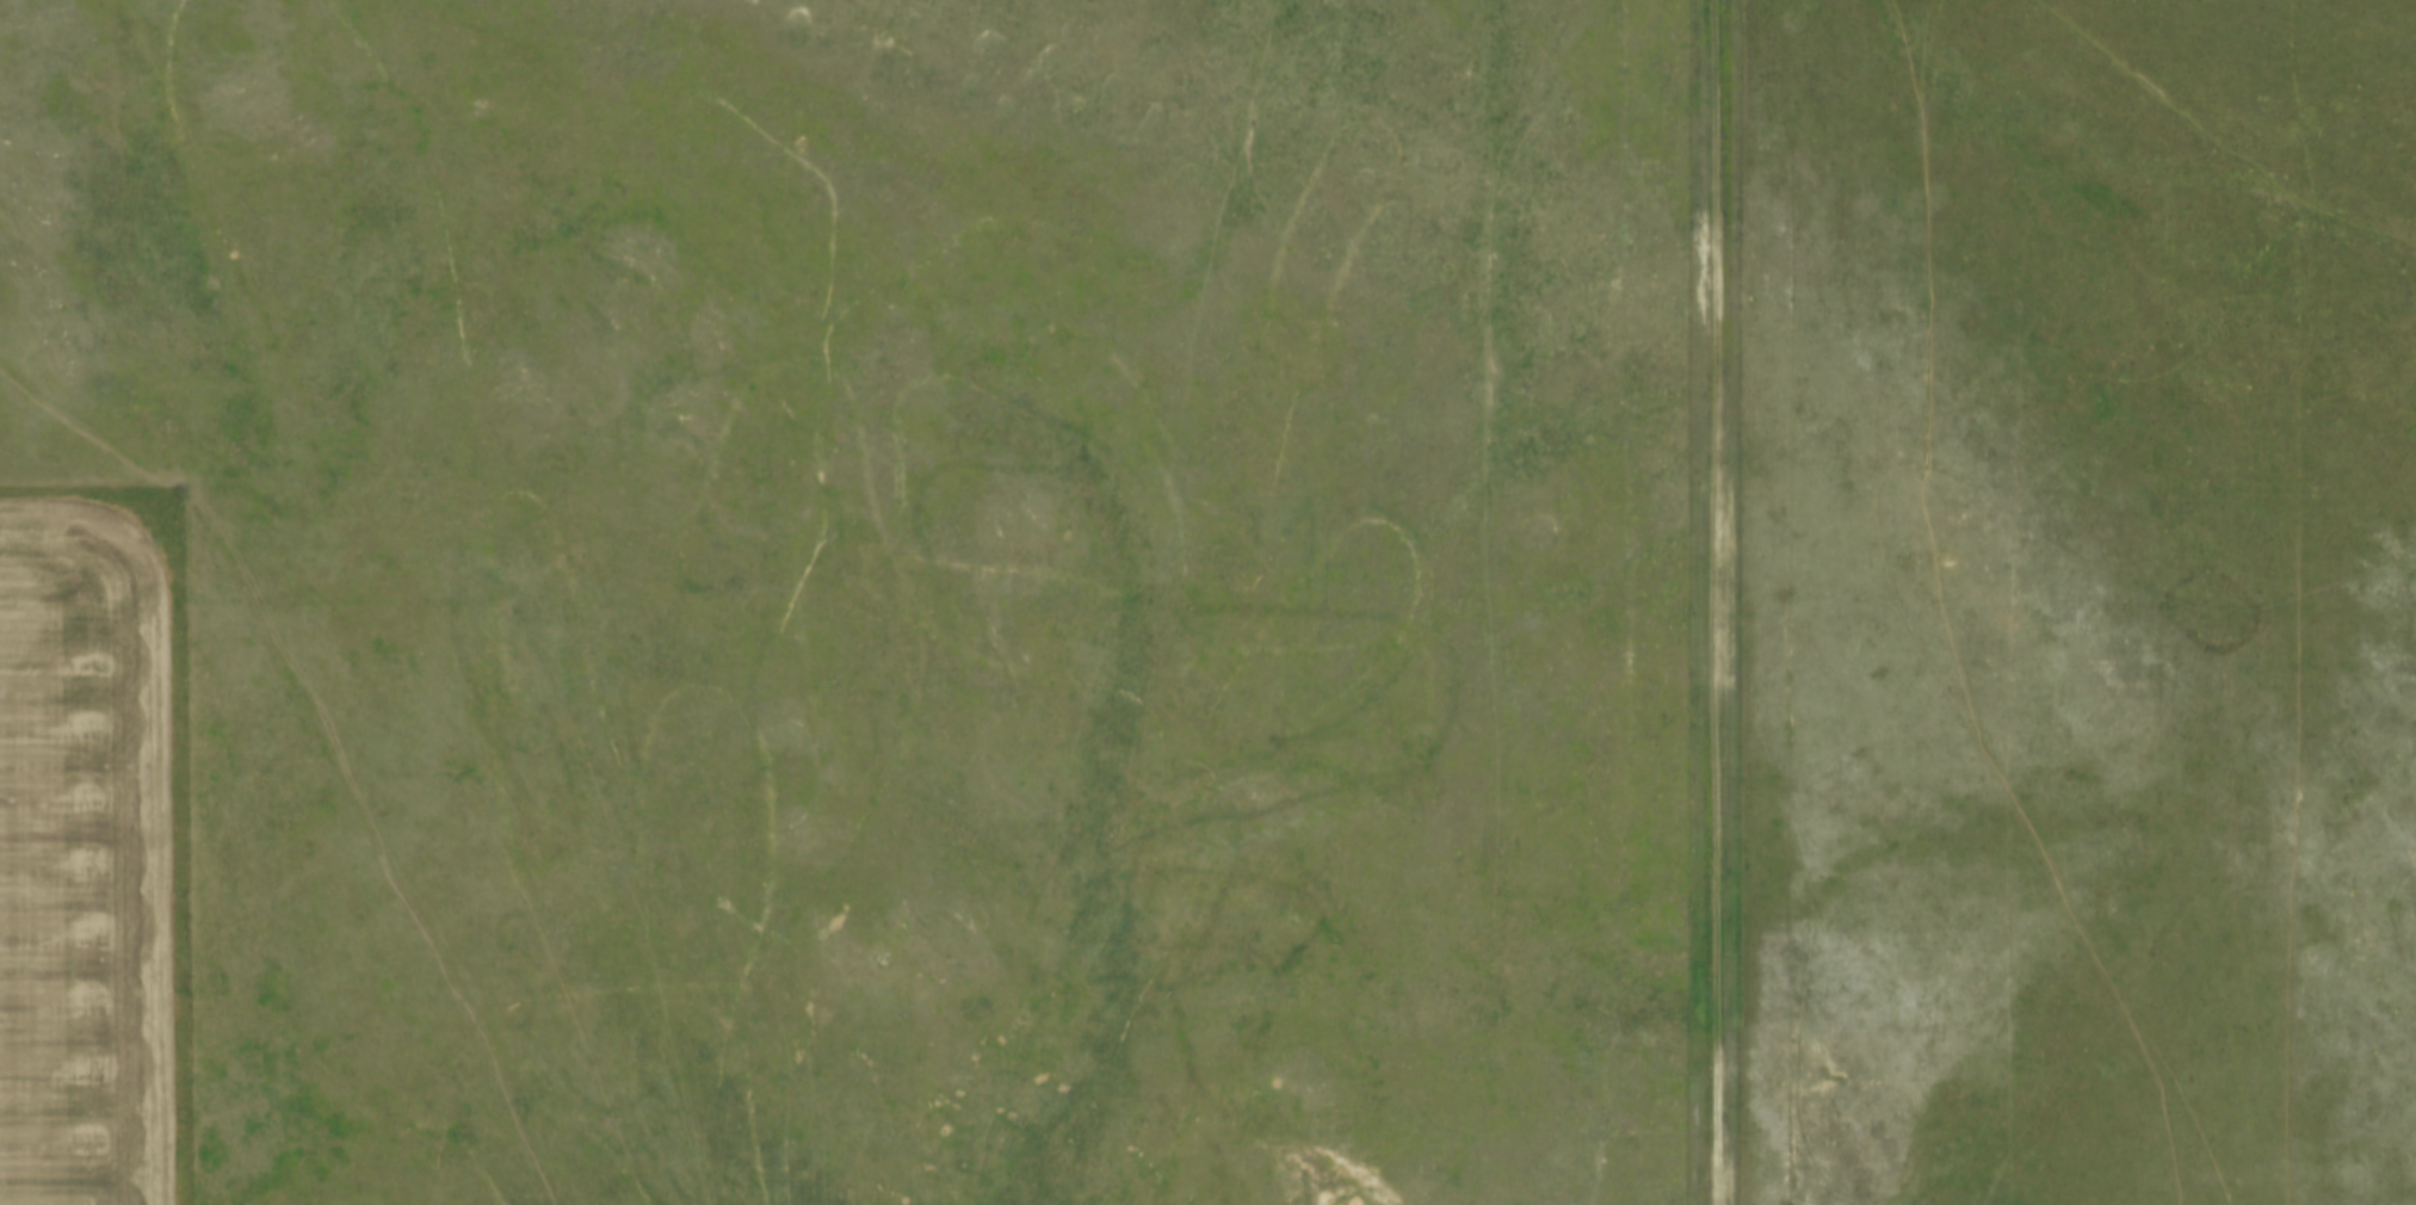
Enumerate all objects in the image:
road: (1722, 601)

